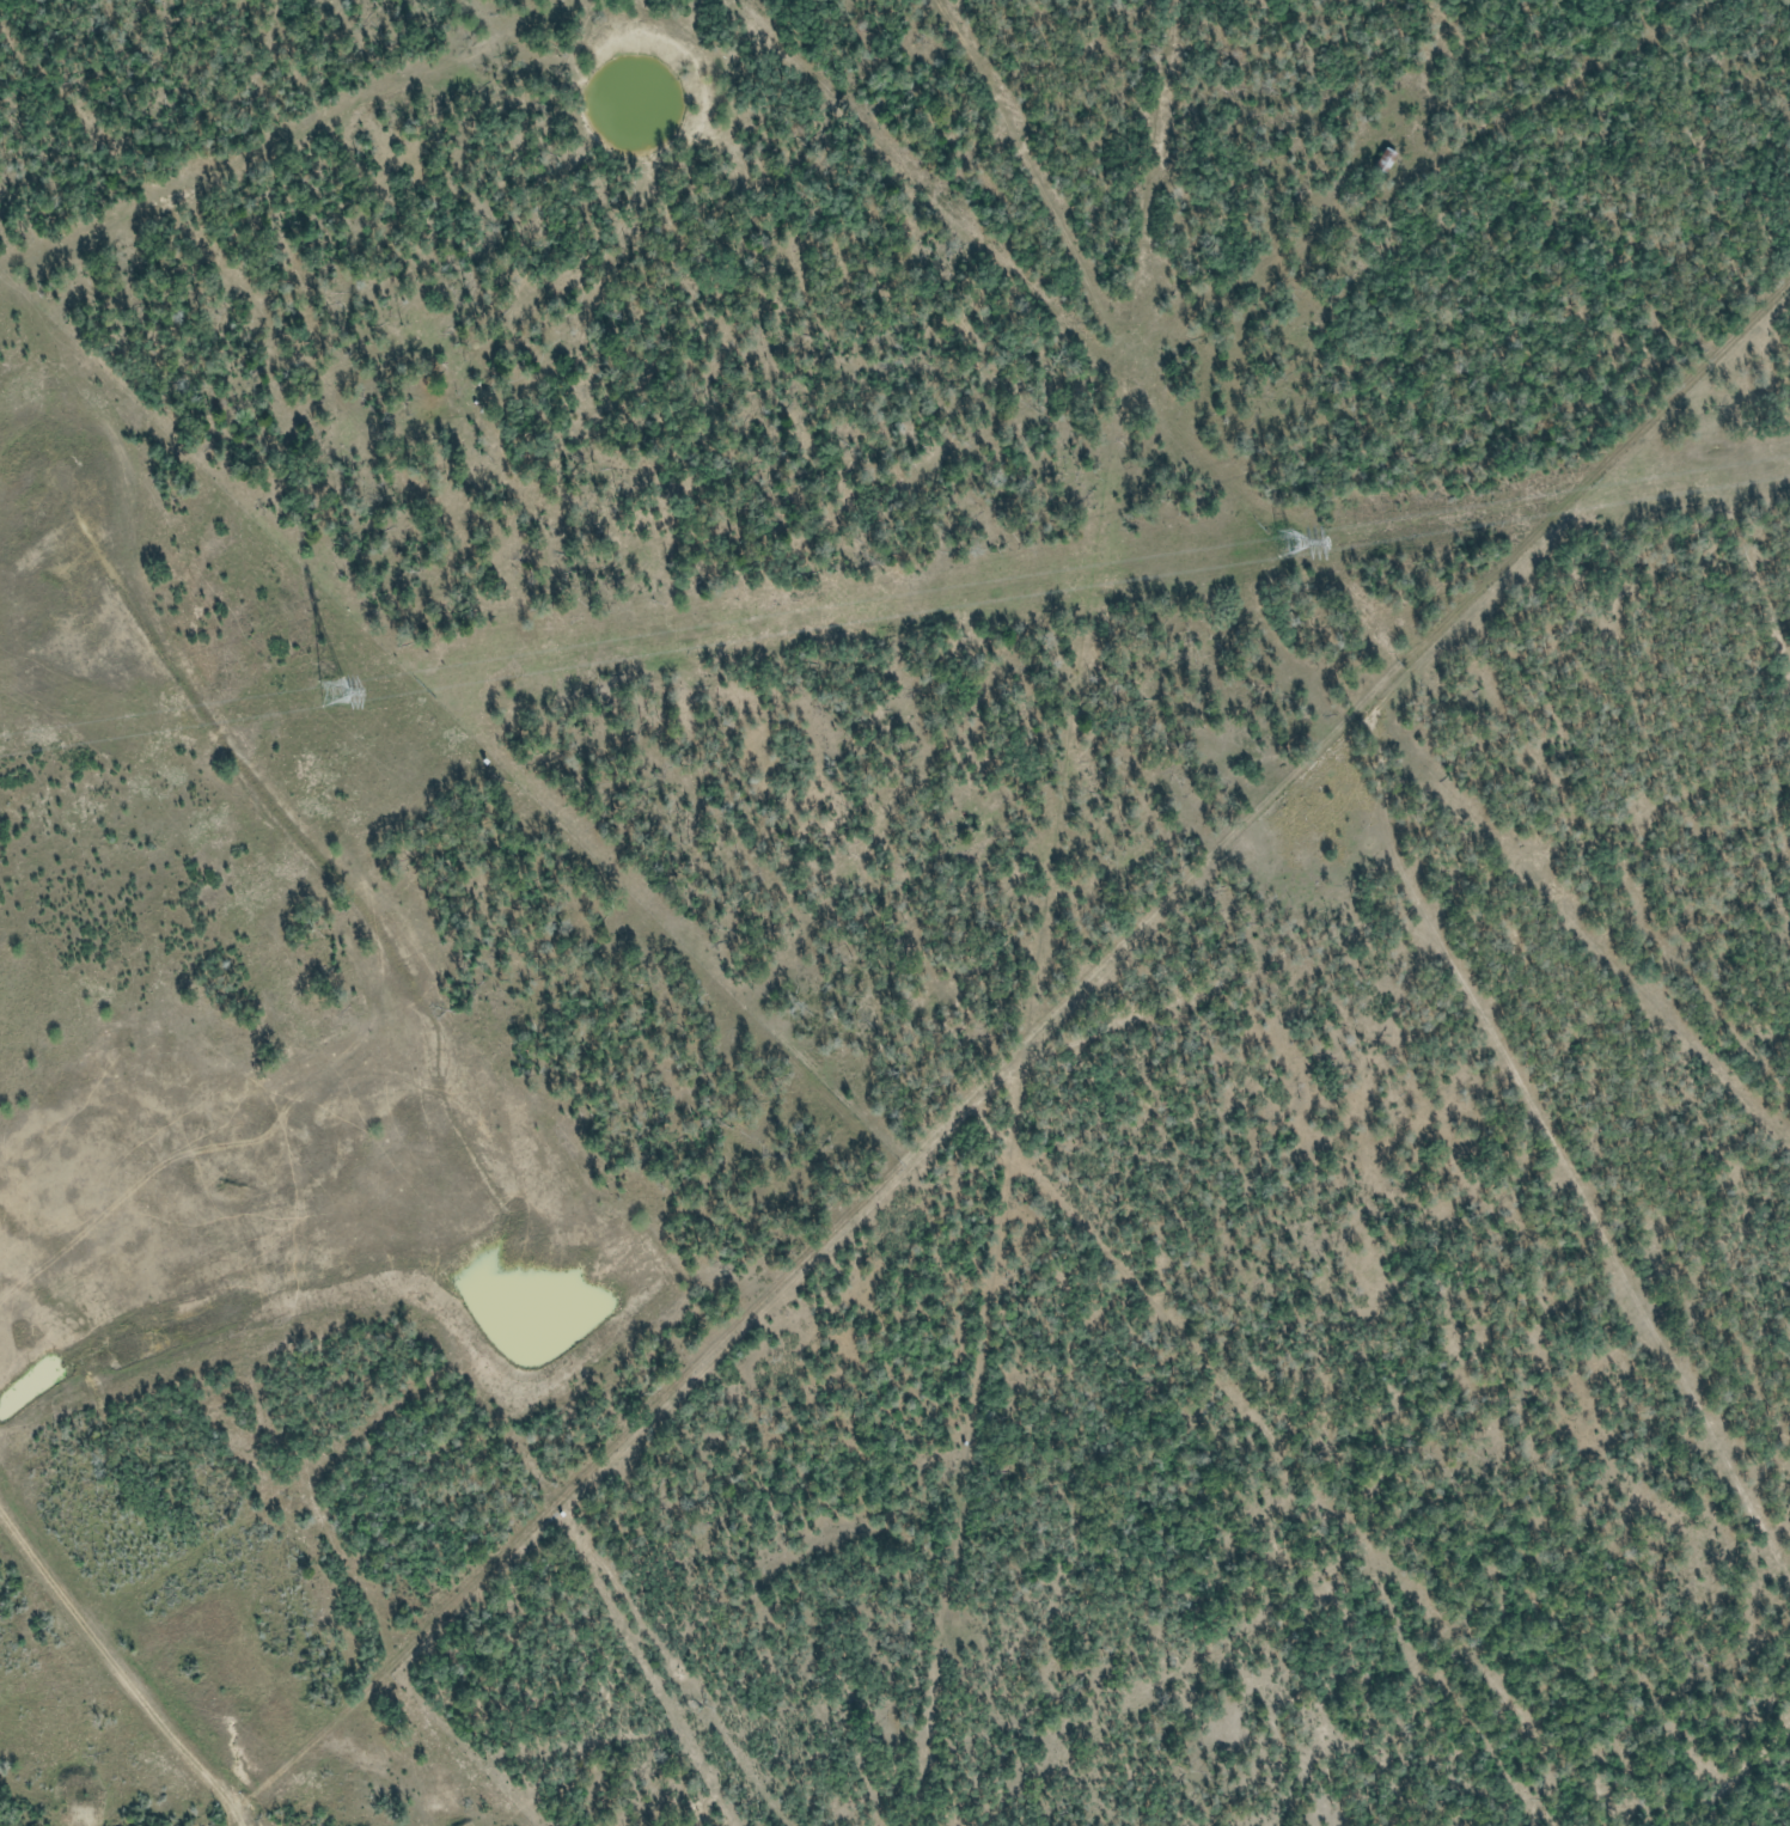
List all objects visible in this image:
road: (16, 16)
power tower: (1282, 539)
power tower: (335, 691)

